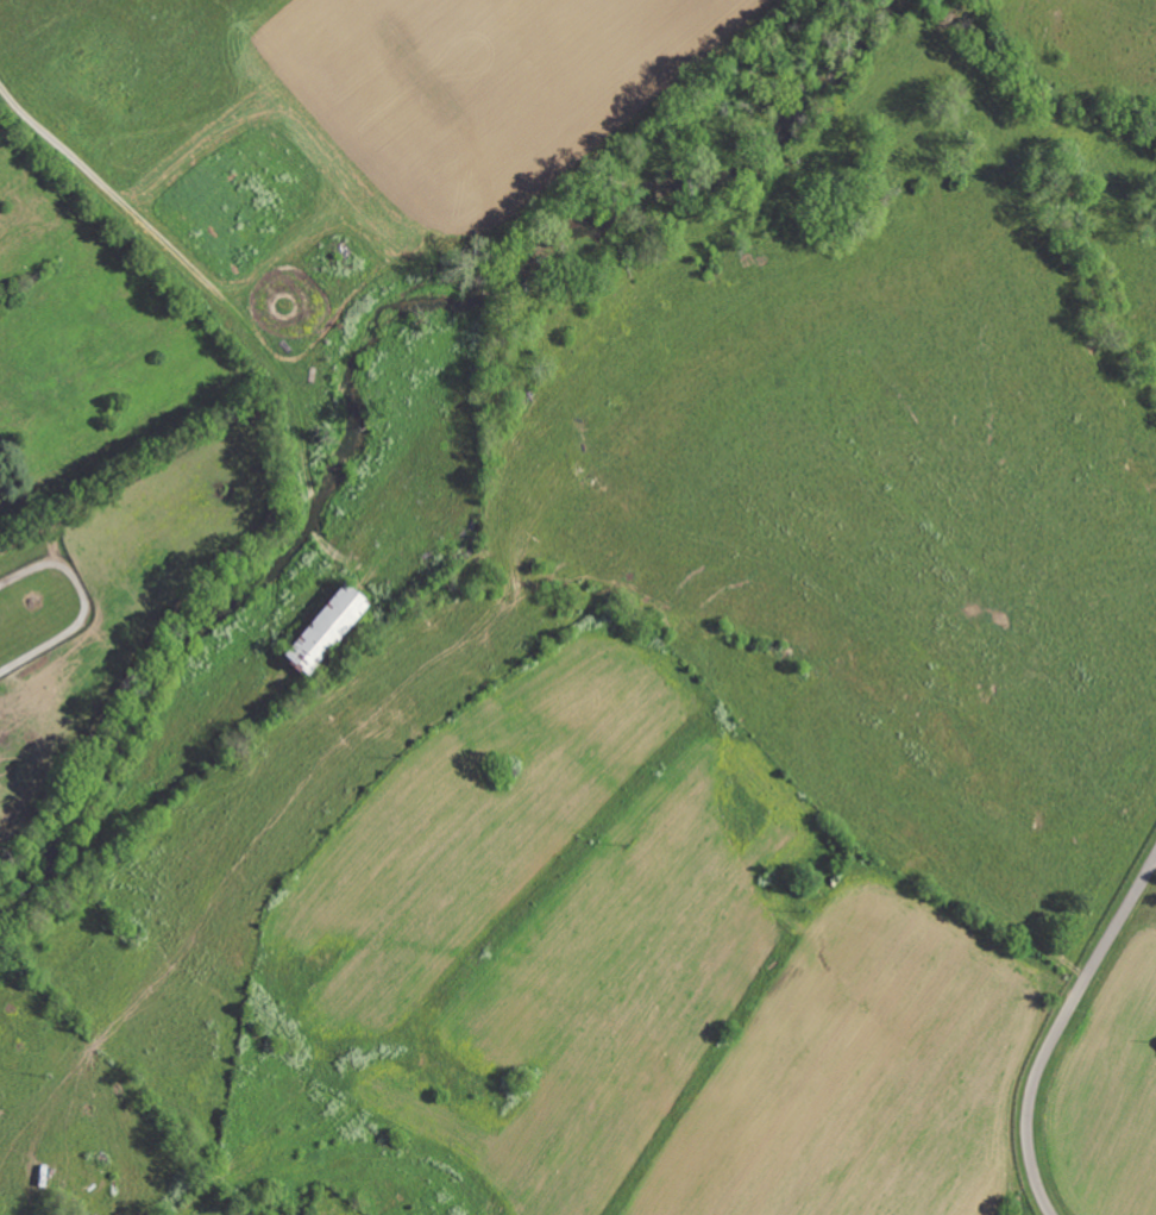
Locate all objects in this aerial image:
building: (318, 630)
road: (1058, 1028)

